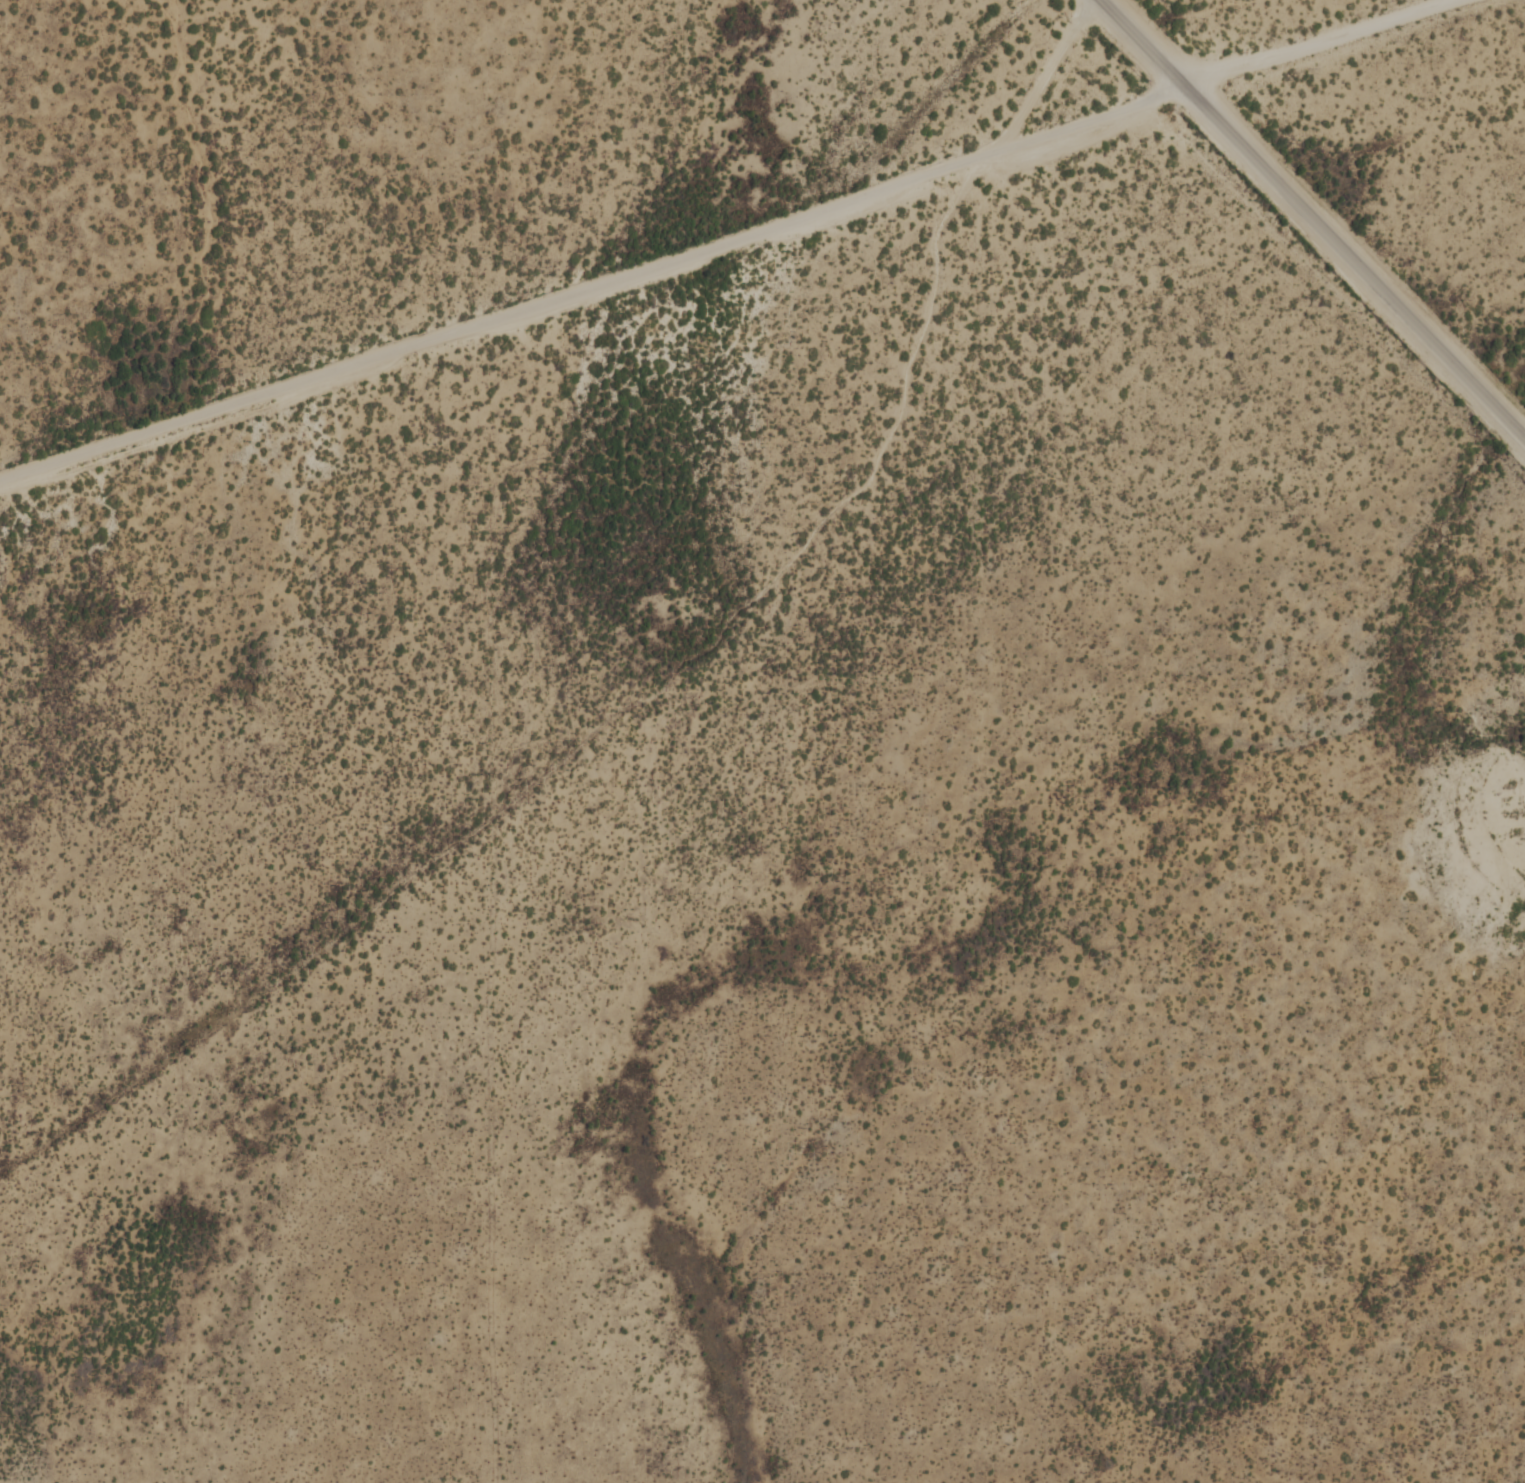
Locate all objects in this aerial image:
road: (1317, 43)
road: (1043, 80)
road: (1312, 219)
road: (594, 288)

